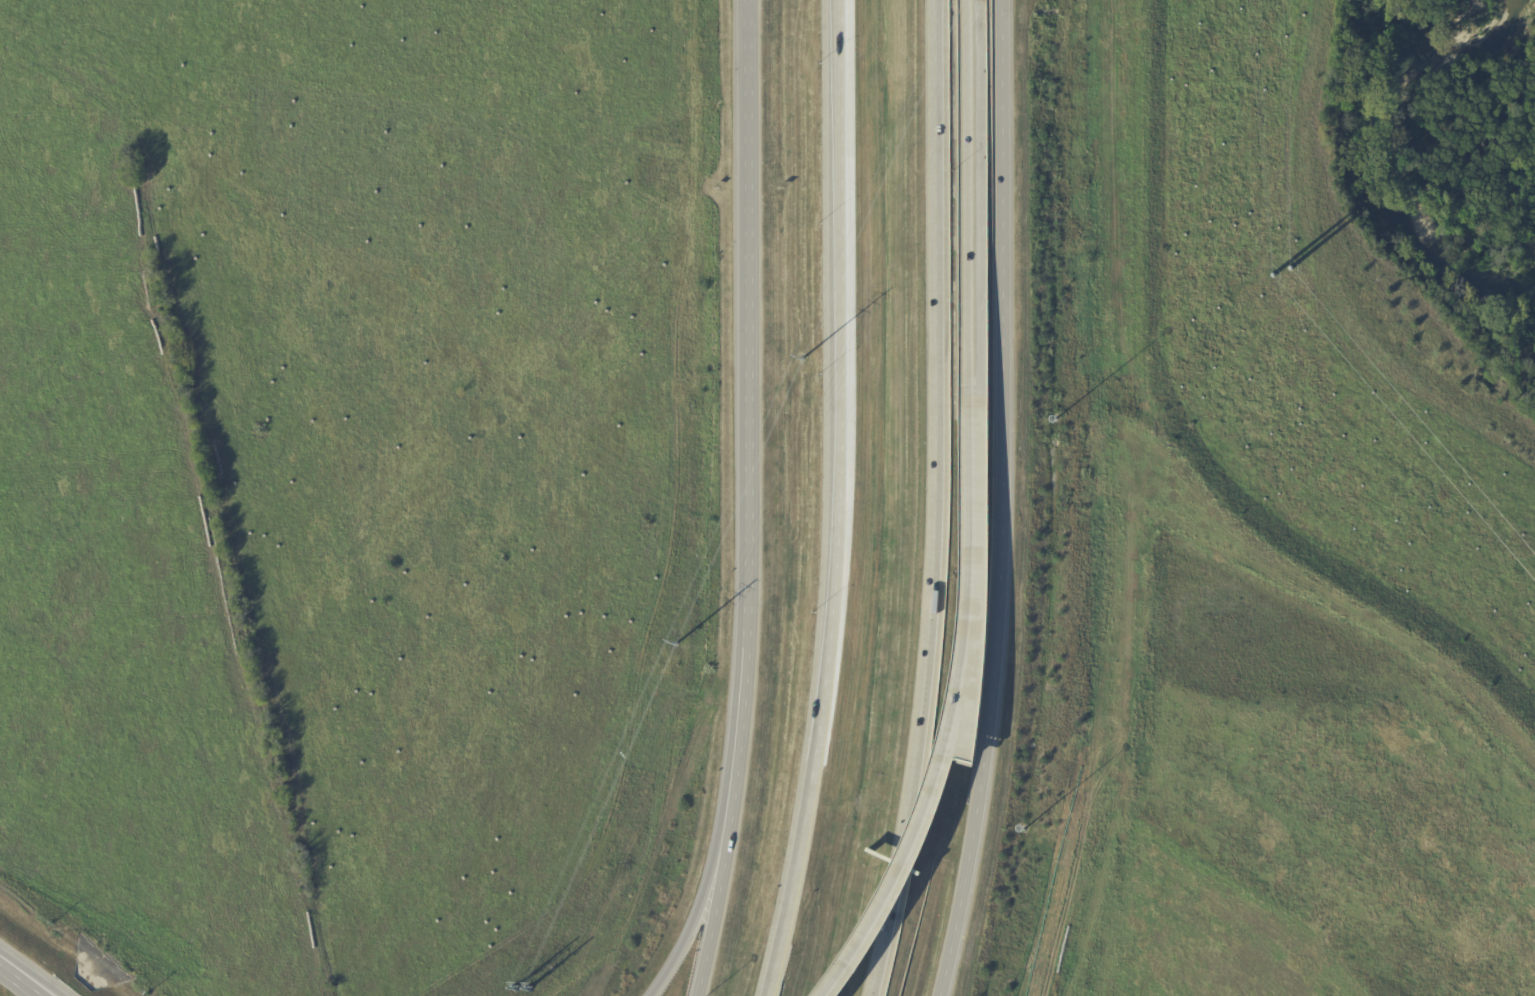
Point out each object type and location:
road: (966, 178)
river: (1401, 182)
road: (943, 232)
power tower: (1277, 277)
power tower: (805, 359)
road: (754, 500)
road: (839, 500)
road: (1009, 500)
power tower: (677, 643)
road: (957, 691)
road: (921, 731)
road: (693, 921)
road: (0, 973)
road: (31, 982)
road: (15, 985)
power tower: (520, 989)

